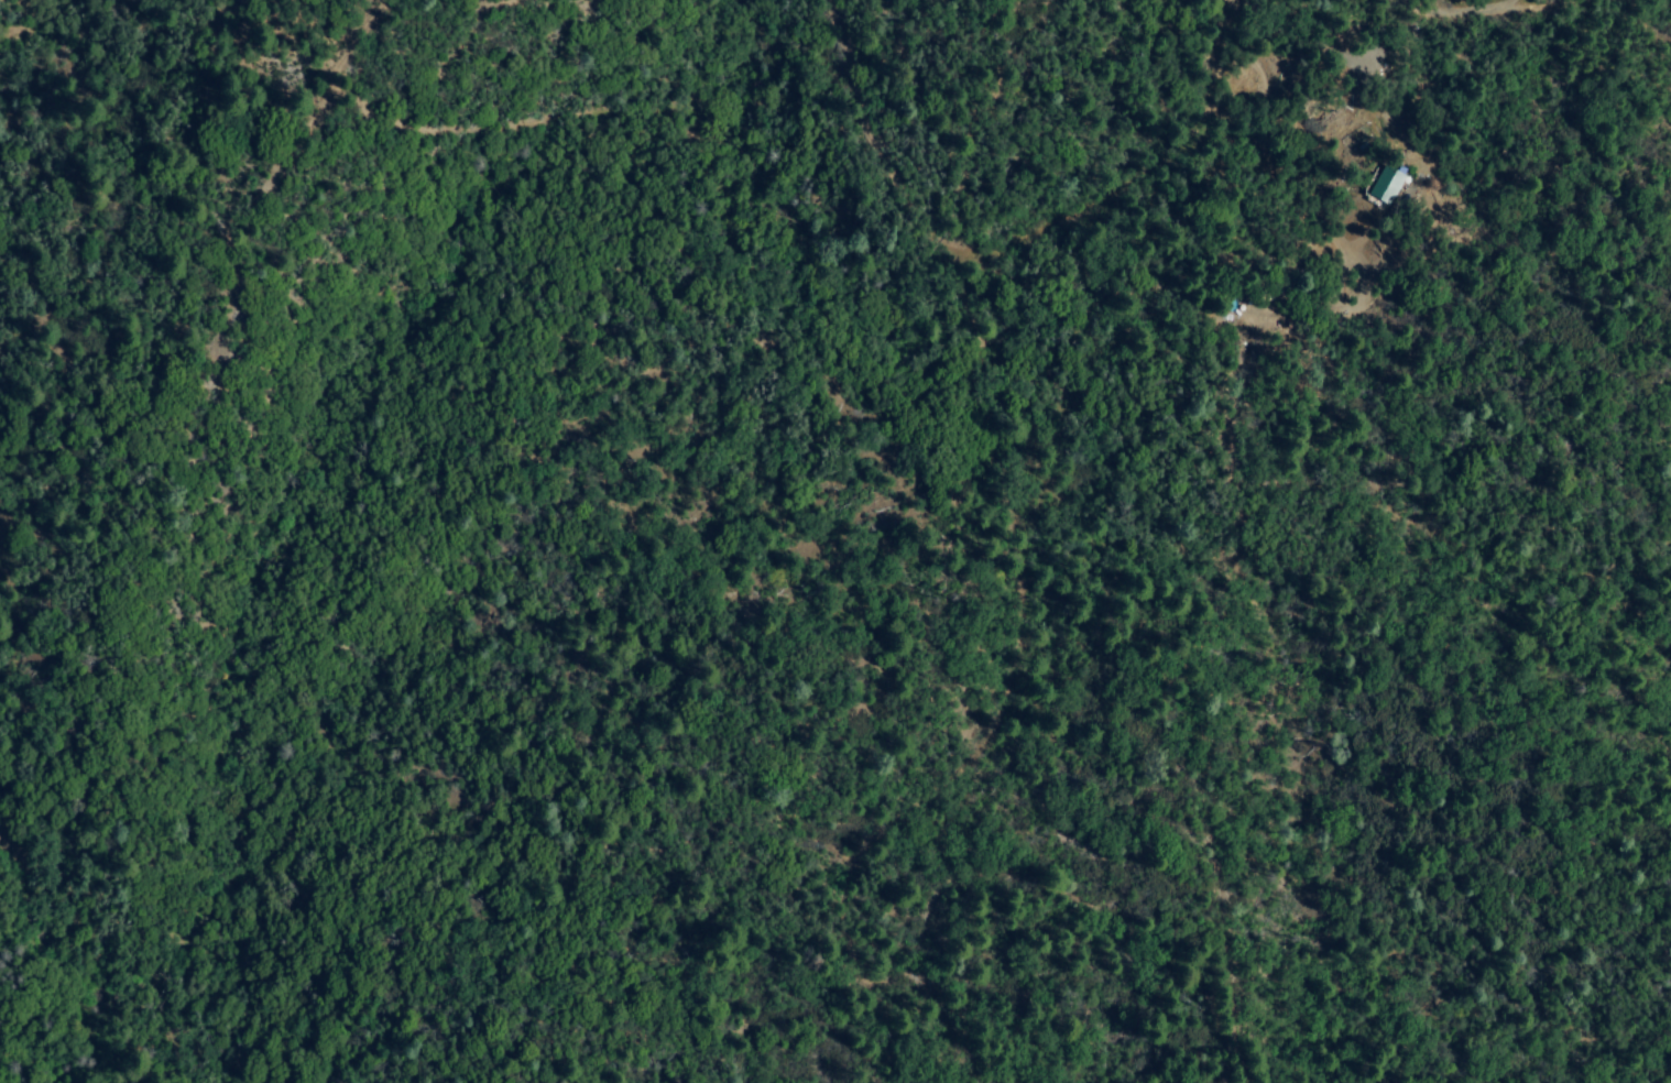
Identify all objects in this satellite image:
road: (1497, 13)
road: (1236, 138)
building: (1381, 186)

